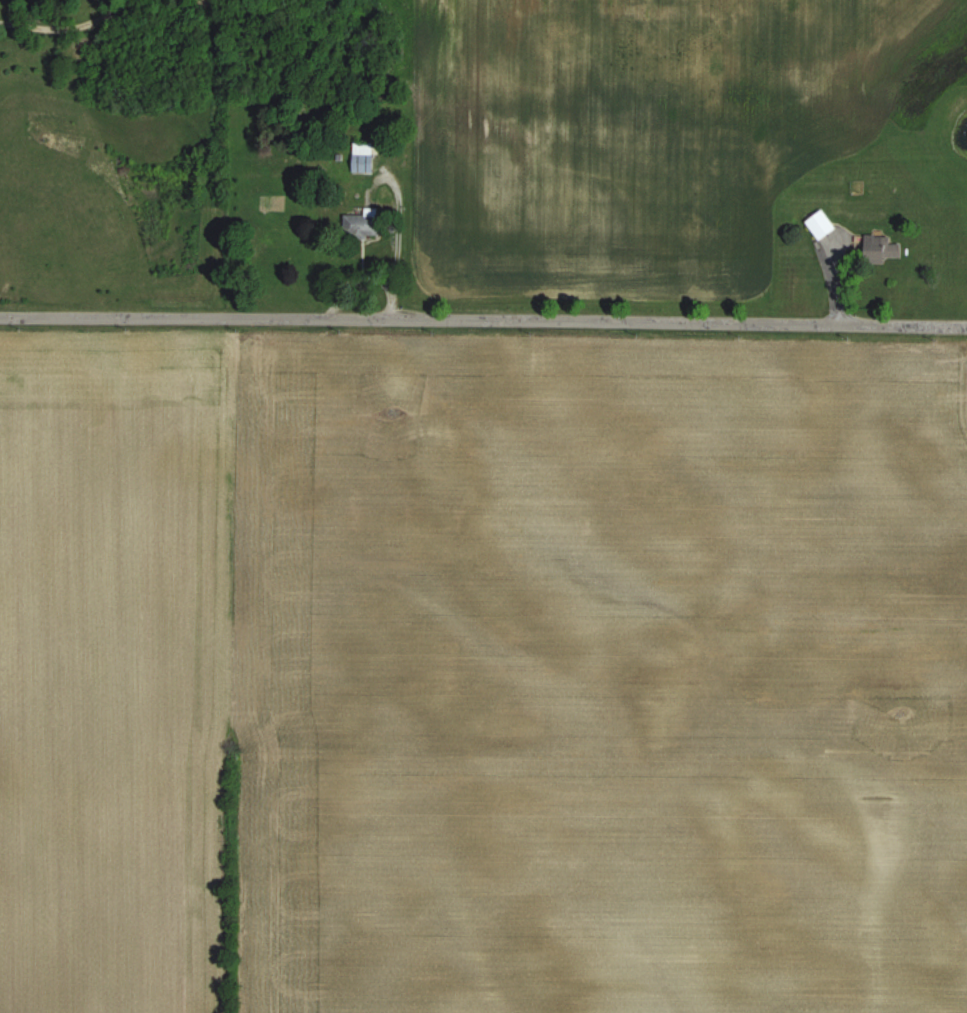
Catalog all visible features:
road: (67, 26)
building: (362, 156)
building: (362, 224)
building: (817, 224)
building: (877, 249)
road: (483, 321)

